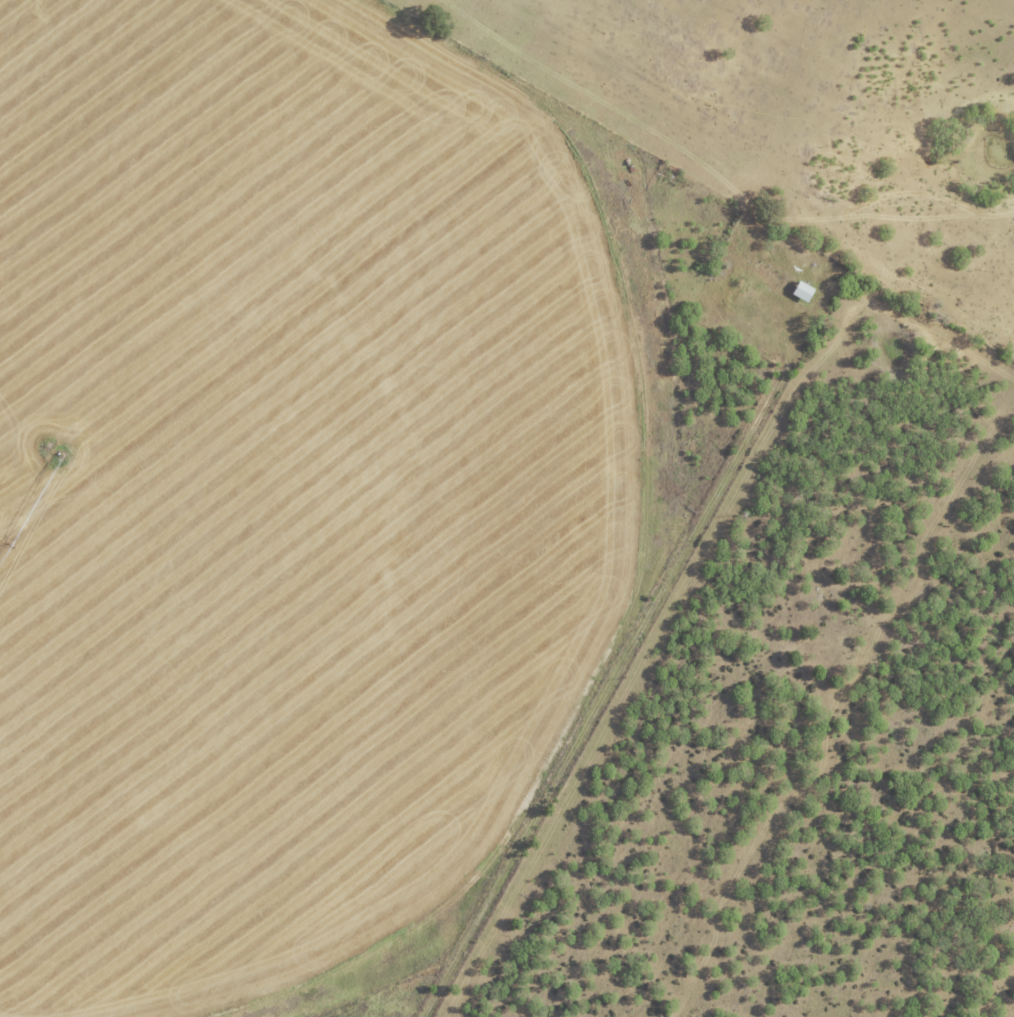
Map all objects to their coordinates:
building: (805, 290)
road: (617, 673)

